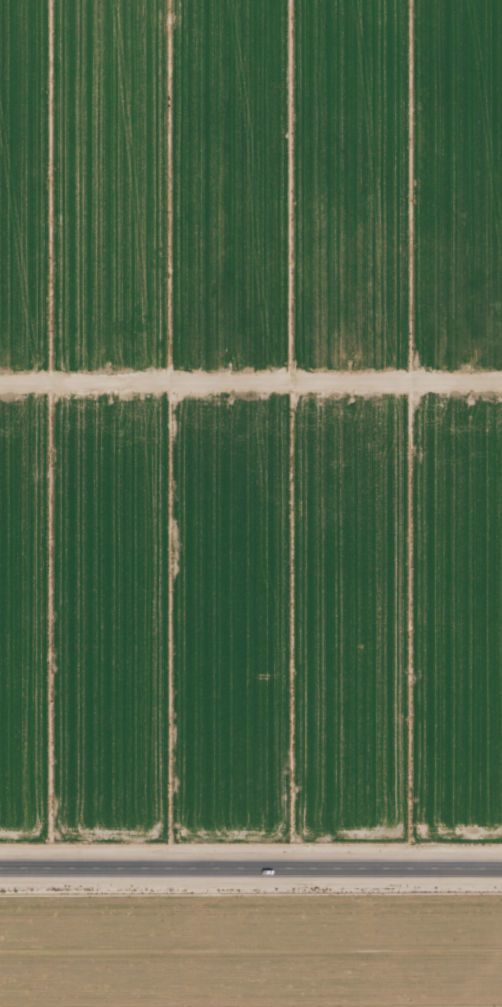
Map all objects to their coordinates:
crop: (250, 185)
road: (246, 422)
road: (251, 869)

